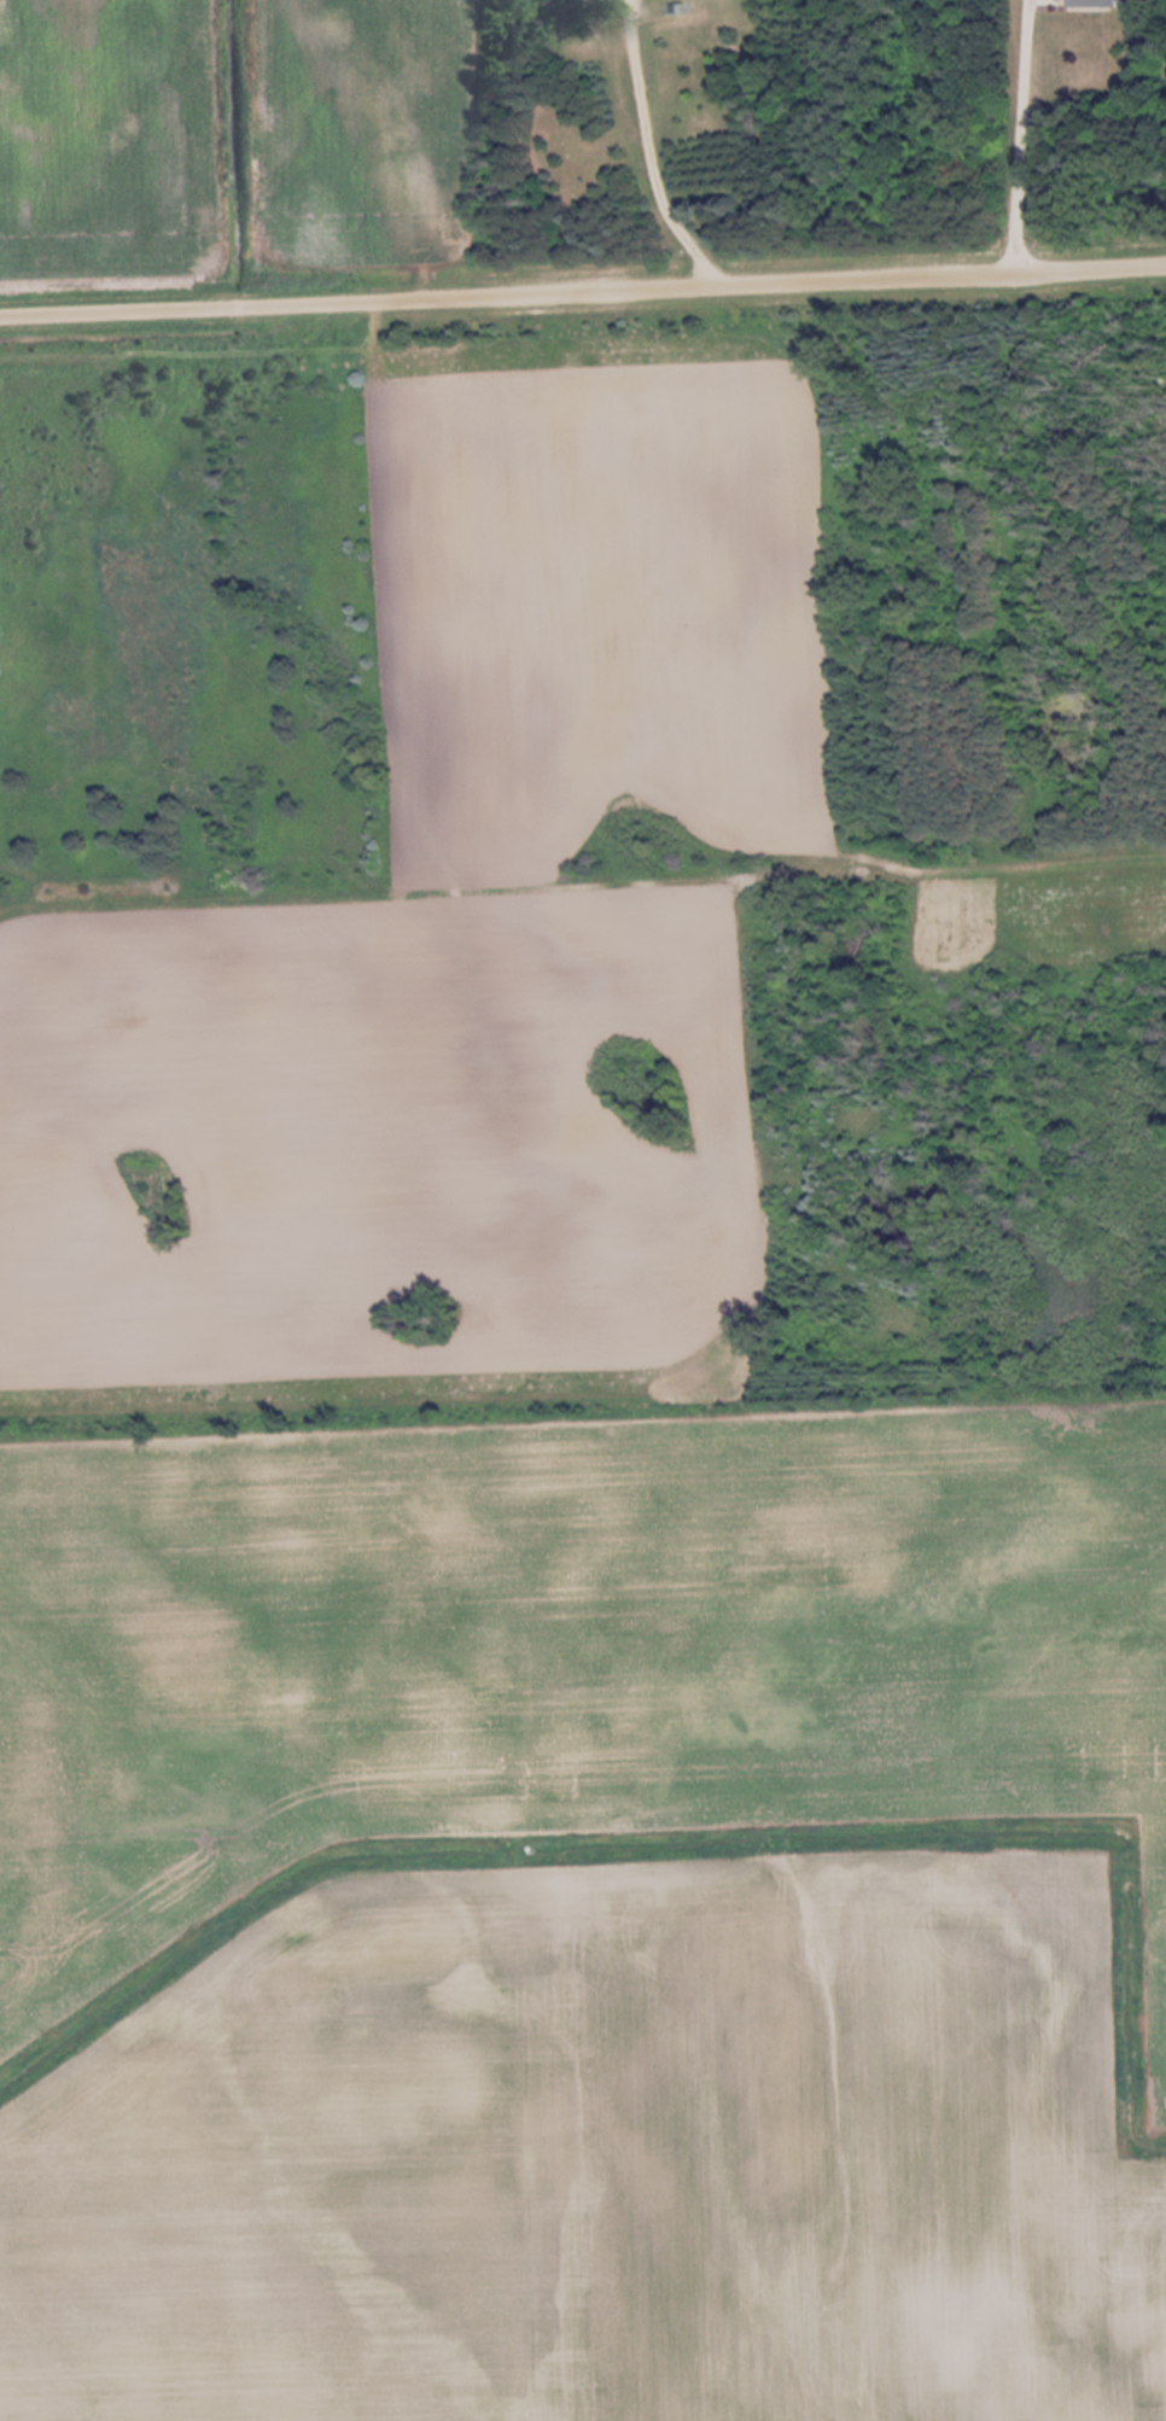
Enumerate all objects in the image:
building: (1113, 2)
building: (684, 17)
road: (583, 294)

